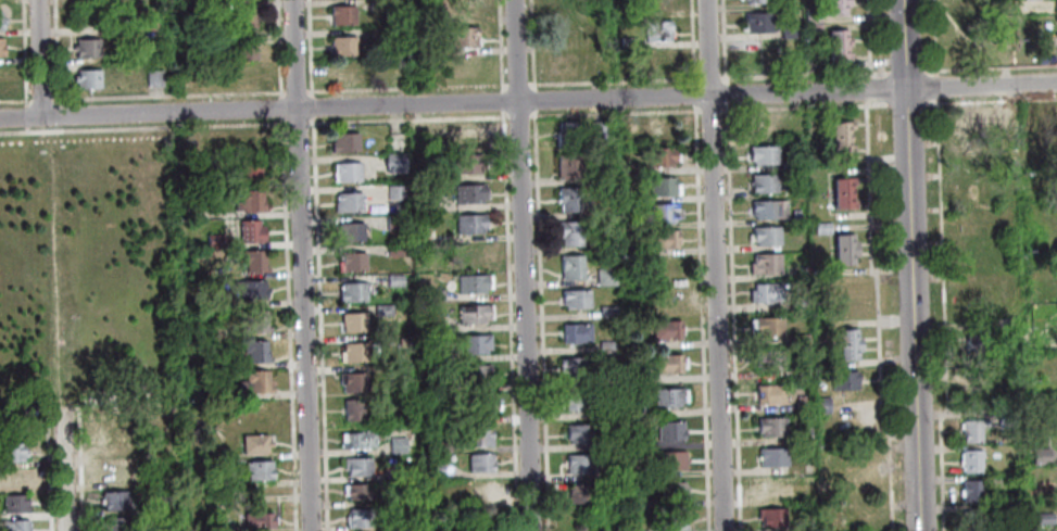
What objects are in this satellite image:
building: (756, 1)
building: (380, 4)
building: (1056, 4)
building: (658, 5)
building: (565, 7)
building: (834, 7)
building: (465, 8)
building: (624, 9)
building: (967, 10)
building: (813, 12)
building: (87, 14)
building: (342, 14)
building: (188, 15)
building: (248, 18)
building: (2, 20)
building: (148, 20)
building: (756, 22)
building: (789, 27)
building: (815, 28)
building: (377, 30)
building: (660, 30)
building: (568, 34)
building: (466, 36)
building: (835, 37)
road: (868, 37)
road: (933, 37)
building: (629, 41)
building: (1016, 42)
building: (342, 45)
building: (2, 46)
building: (87, 47)
building: (249, 47)
road: (277, 47)
road: (310, 47)
road: (24, 51)
road: (55, 52)
building: (835, 53)
building: (756, 54)
building: (219, 58)
road: (37, 59)
building: (591, 60)
building: (659, 61)
building: (809, 62)
building: (566, 63)
building: (794, 63)
road: (989, 67)
building: (348, 68)
road: (904, 71)
road: (793, 74)
building: (249, 76)
building: (88, 77)
building: (155, 79)
road: (613, 79)
road: (517, 83)
road: (406, 86)
road: (867, 87)
road: (934, 87)
road: (29, 89)
road: (295, 89)
road: (42, 93)
road: (169, 93)
road: (13, 99)
road: (989, 101)
road: (528, 102)
road: (904, 103)
road: (279, 105)
road: (311, 105)
street lamp: (890, 106)
road: (59, 110)
building: (999, 112)
road: (597, 113)
road: (26, 114)
building: (965, 121)
road: (297, 122)
road: (27, 127)
road: (142, 127)
building: (600, 128)
building: (839, 128)
building: (660, 129)
building: (569, 132)
building: (464, 136)
building: (342, 141)
building: (249, 142)
building: (840, 144)
building: (760, 154)
building: (664, 156)
building: (392, 162)
building: (465, 162)
building: (568, 164)
building: (627, 164)
building: (249, 169)
building: (343, 172)
building: (762, 184)
building: (840, 184)
building: (664, 185)
road: (868, 185)
building: (973, 187)
building: (394, 191)
building: (466, 192)
building: (247, 199)
building: (571, 199)
building: (841, 200)
building: (345, 202)
building: (423, 203)
building: (766, 208)
building: (191, 211)
building: (665, 212)
building: (793, 215)
building: (392, 222)
building: (972, 222)
building: (467, 223)
building: (819, 227)
building: (249, 230)
building: (349, 230)
building: (571, 232)
building: (423, 233)
building: (764, 235)
building: (664, 238)
building: (213, 241)
building: (391, 249)
building: (842, 249)
building: (474, 253)
road: (941, 255)
building: (971, 255)
building: (251, 260)
building: (350, 261)
park: (86, 262)
building: (763, 264)
road: (300, 265)
road: (506, 265)
road: (521, 265)
road: (539, 265)
road: (700, 265)
road: (714, 265)
road: (731, 265)
road: (910, 265)
building: (572, 266)
building: (803, 266)
road: (871, 269)
building: (606, 275)
road: (55, 277)
building: (393, 280)
building: (471, 282)
building: (247, 288)
building: (350, 292)
building: (764, 292)
building: (974, 292)
building: (432, 294)
building: (576, 299)
building: (796, 302)
building: (607, 308)
building: (380, 309)
building: (471, 313)
building: (253, 321)
building: (351, 321)
building: (428, 321)
road: (286, 324)
road: (317, 324)
building: (765, 326)
building: (667, 329)
building: (577, 332)
building: (798, 338)
building: (974, 340)
building: (471, 343)
building: (845, 343)
building: (400, 344)
building: (352, 351)
building: (372, 351)
building: (253, 352)
building: (433, 354)
building: (767, 359)
building: (670, 363)
building: (575, 366)
building: (798, 372)
building: (473, 374)
building: (609, 377)
building: (636, 377)
building: (255, 380)
building: (842, 380)
building: (351, 381)
building: (408, 381)
building: (436, 385)
building: (979, 390)
building: (218, 392)
building: (767, 393)
building: (671, 396)
building: (579, 400)
road: (880, 403)
building: (474, 404)
building: (820, 404)
building: (802, 406)
building: (351, 408)
building: (636, 409)
road: (48, 410)
building: (611, 410)
road: (957, 413)
building: (1005, 418)
building: (11, 423)
building: (113, 423)
building: (769, 427)
building: (971, 429)
building: (671, 430)
building: (581, 433)
building: (800, 433)
building: (477, 437)
building: (354, 439)
building: (639, 441)
building: (252, 442)
building: (394, 444)
building: (441, 445)
building: (113, 448)
building: (9, 451)
building: (1039, 455)
building: (771, 457)
building: (672, 459)
building: (970, 460)
building: (856, 462)
road: (46, 463)
building: (478, 463)
building: (581, 463)
building: (355, 466)
building: (256, 468)
building: (430, 468)
road: (60, 469)
road: (77, 469)
building: (405, 471)
road: (942, 471)
building: (110, 473)
building: (11, 477)
building: (163, 477)
building: (485, 488)
building: (770, 488)
building: (358, 491)
building: (674, 491)
building: (970, 491)
building: (582, 494)
building: (112, 498)
building: (162, 498)
building: (641, 501)
building: (12, 503)
building: (770, 517)
building: (357, 518)
building: (859, 518)
building: (1042, 518)
building: (255, 519)
building: (676, 519)
building: (970, 520)
building: (113, 523)
building: (13, 524)
building: (802, 526)
building: (162, 528)
building: (618, 529)
building: (480, 530)
building: (641, 530)

